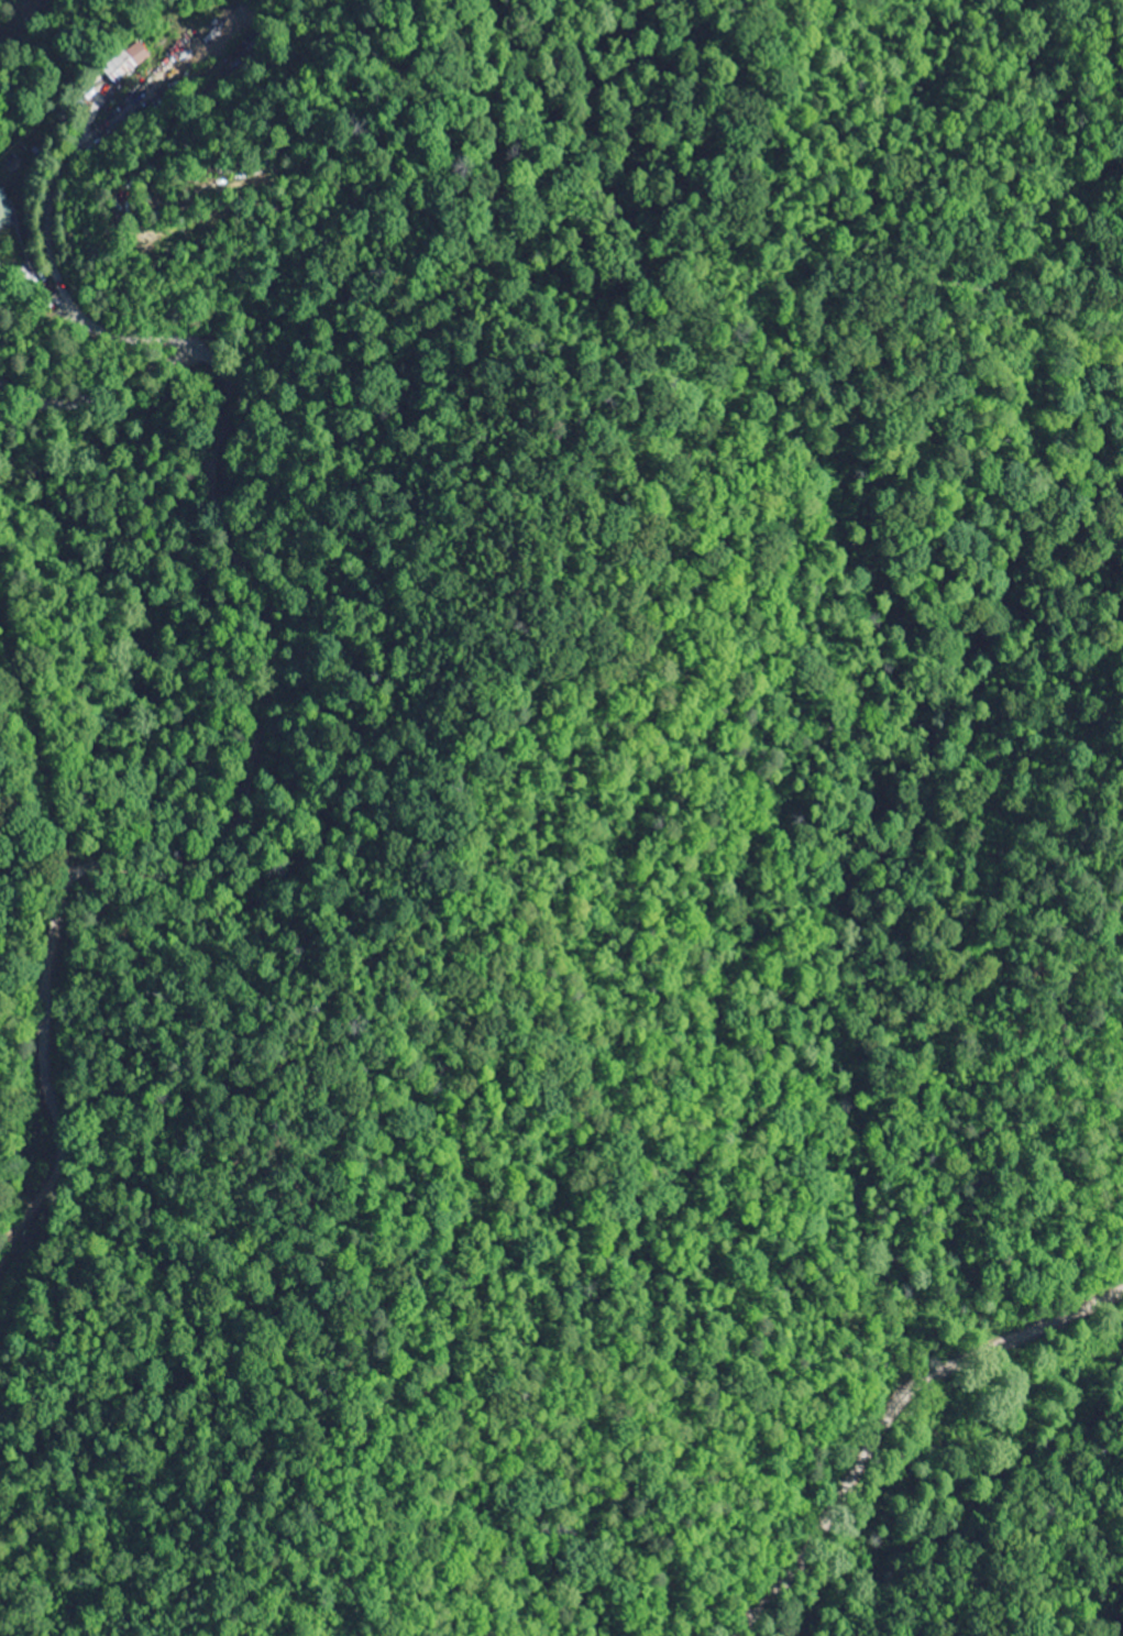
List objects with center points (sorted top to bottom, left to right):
building: (128, 62)
road: (661, 205)
building: (4, 210)
road: (262, 759)
road: (888, 1419)

